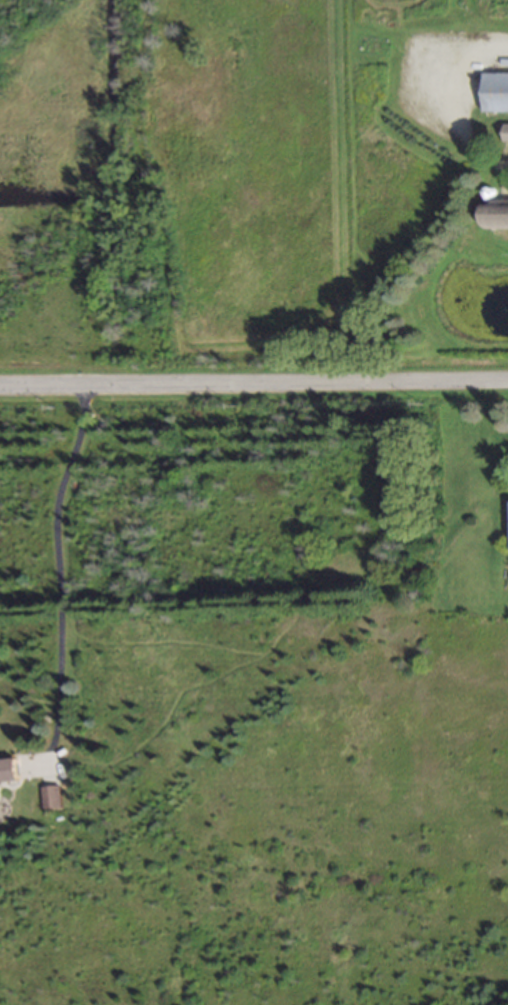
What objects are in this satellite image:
building: (496, 94)
building: (506, 134)
building: (496, 216)
road: (254, 386)
road: (59, 573)
building: (8, 772)
building: (52, 800)

